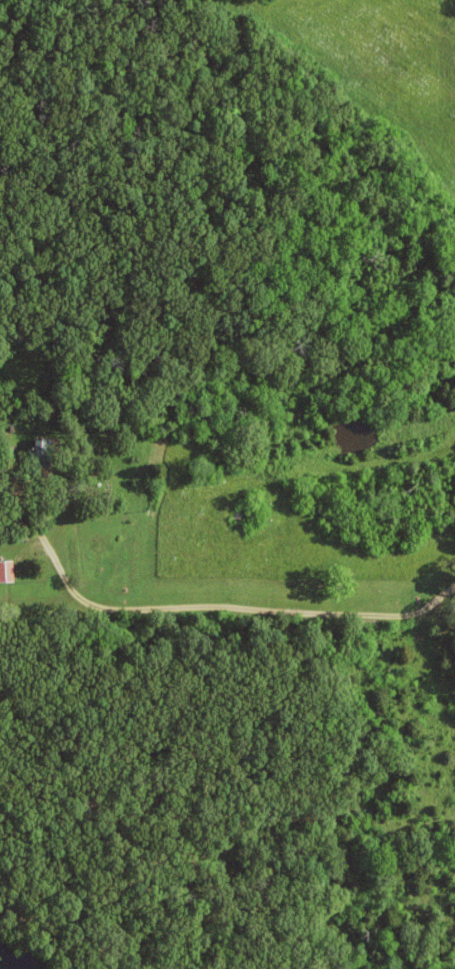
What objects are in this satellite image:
building: (7, 573)
road: (236, 605)

